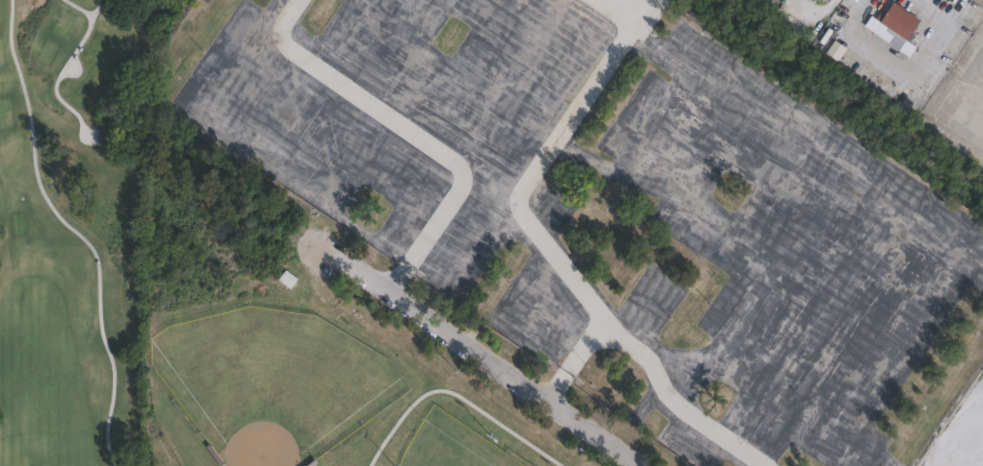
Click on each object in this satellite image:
building: (829, 0)
road: (938, 9)
road: (810, 13)
building: (900, 24)
road: (899, 72)
park: (69, 243)
road: (336, 245)
building: (286, 277)
park: (304, 368)
park: (274, 374)
road: (518, 385)
road: (459, 389)
park: (450, 443)

